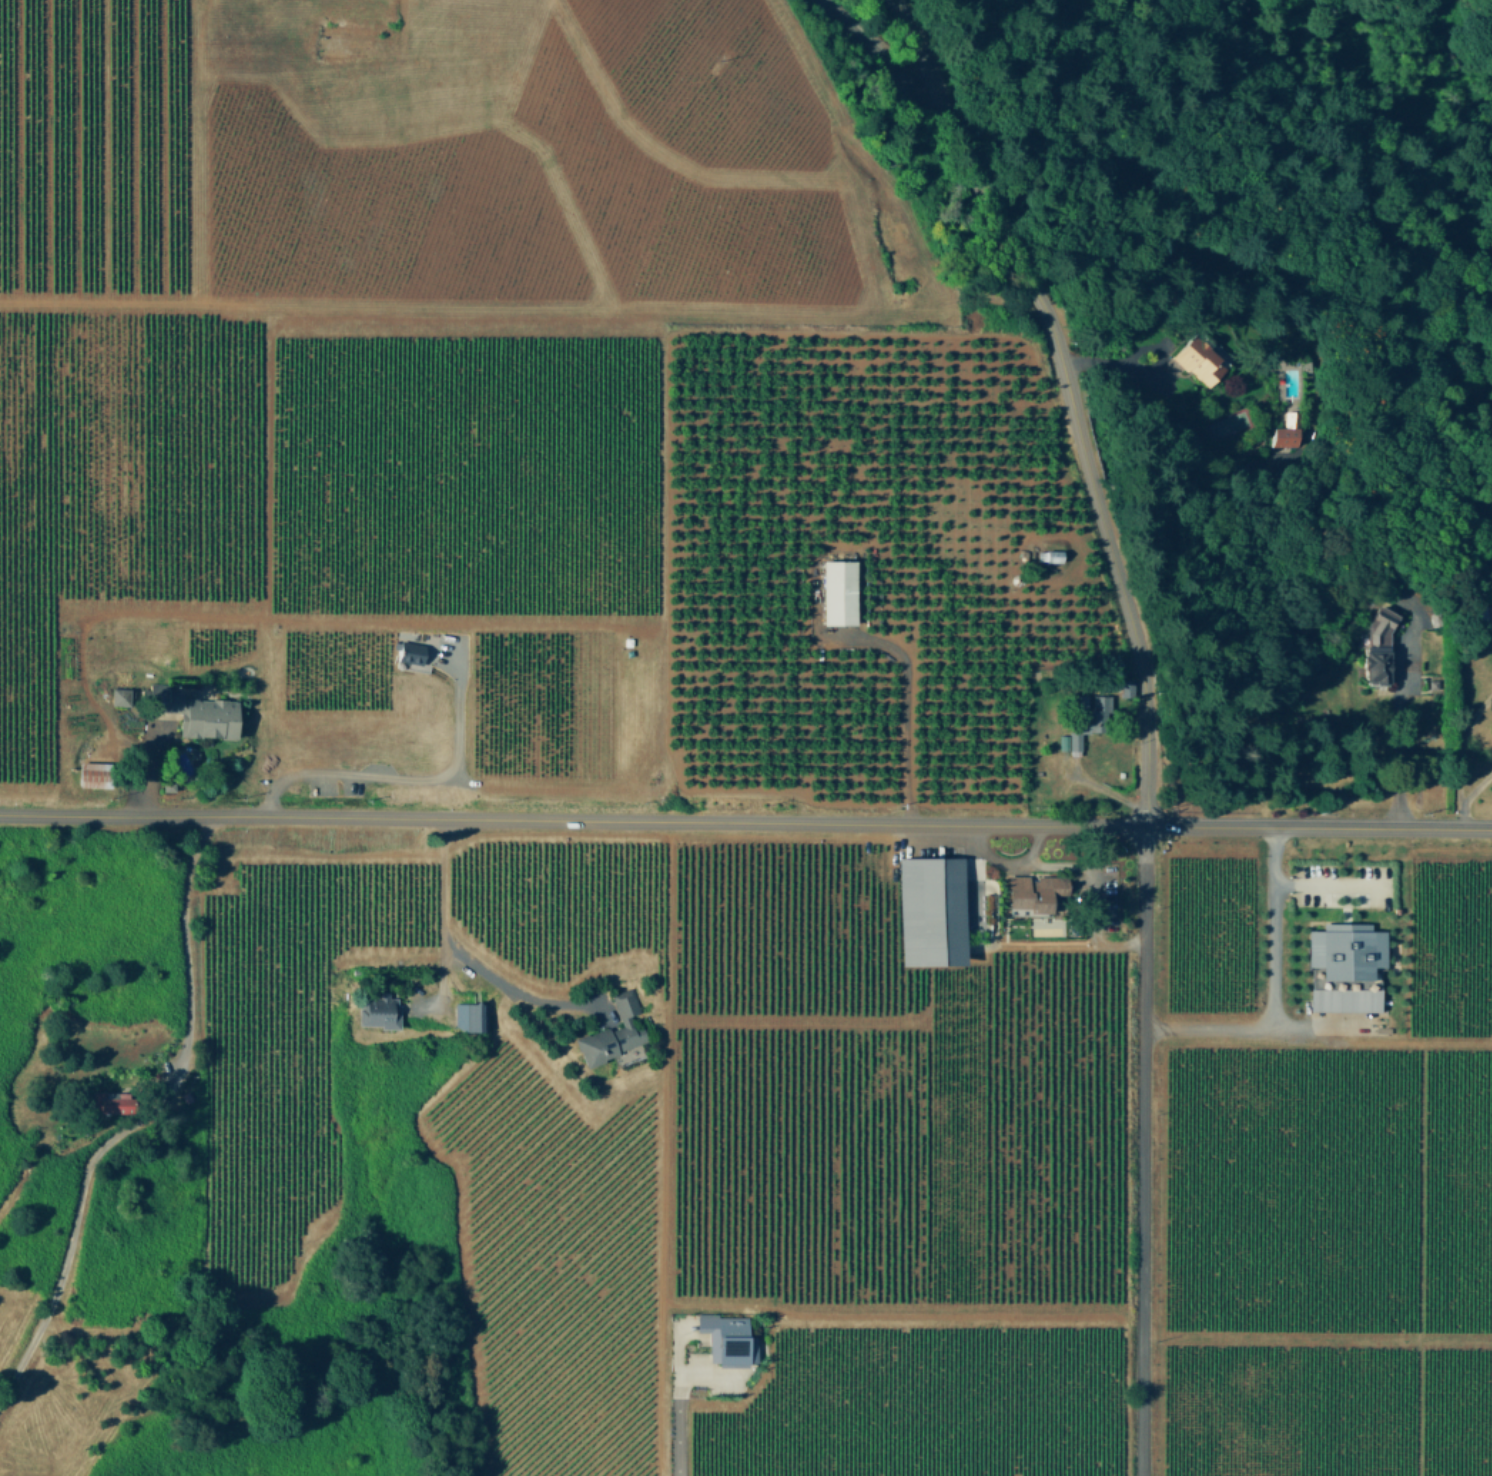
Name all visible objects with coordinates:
road: (878, 53)
road: (1115, 362)
building: (1195, 363)
road: (1068, 391)
building: (1290, 431)
building: (1051, 554)
building: (839, 594)
building: (1374, 645)
building: (414, 655)
building: (1128, 687)
building: (158, 693)
building: (122, 695)
road: (905, 703)
building: (209, 718)
building: (1089, 720)
road: (1399, 733)
building: (94, 774)
road: (406, 777)
road: (1466, 795)
road: (745, 822)
road: (969, 833)
road: (967, 850)
road: (1012, 862)
road: (1324, 881)
building: (1032, 895)
building: (932, 910)
road: (1266, 927)
building: (1346, 950)
road: (458, 952)
building: (1345, 999)
building: (379, 1011)
building: (468, 1016)
road: (1253, 1027)
building: (614, 1032)
building: (112, 1101)
road: (141, 1118)
road: (1142, 1150)
building: (728, 1339)
road: (674, 1424)

